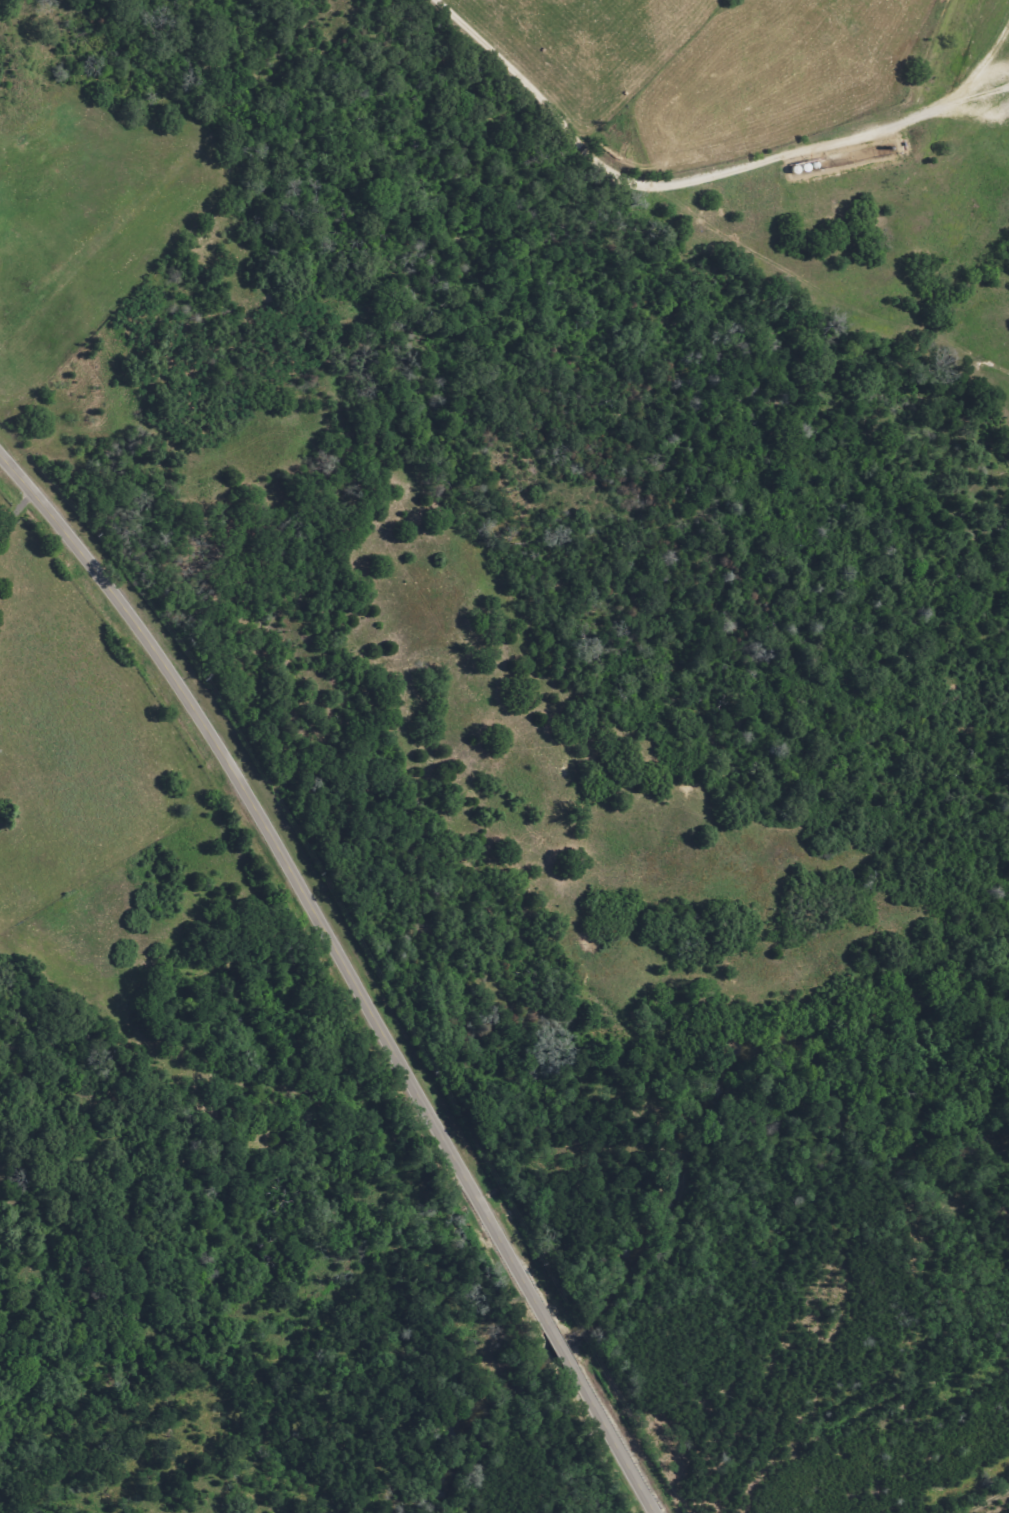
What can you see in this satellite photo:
road: (347, 973)

